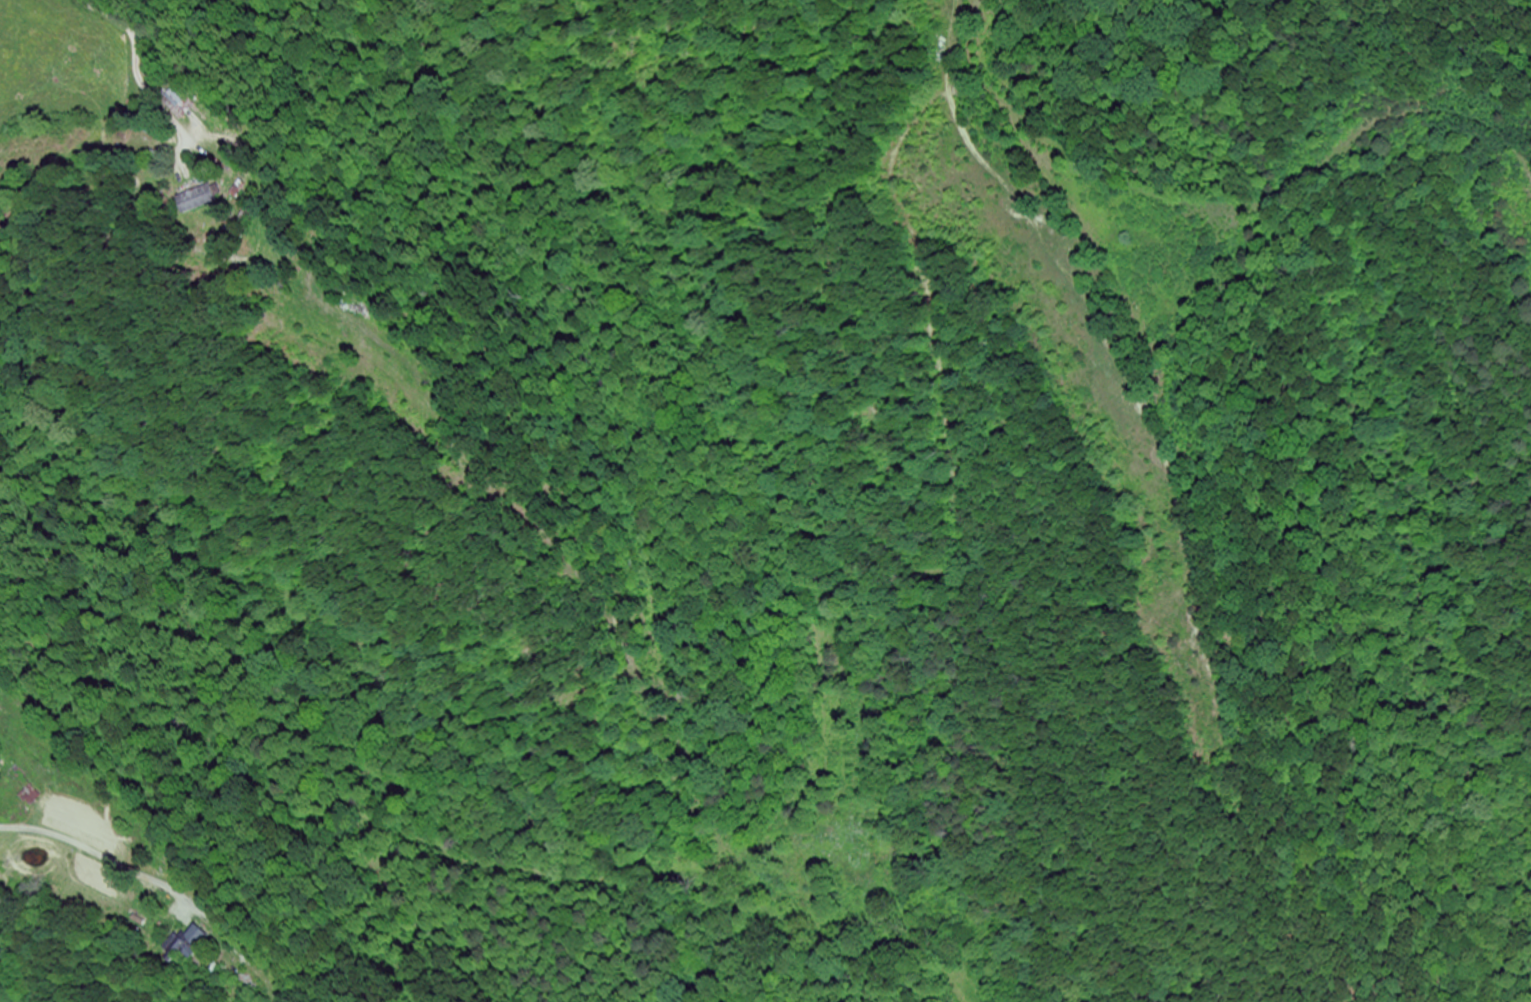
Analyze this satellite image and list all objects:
building: (196, 199)
building: (33, 796)
road: (97, 853)
building: (199, 938)

